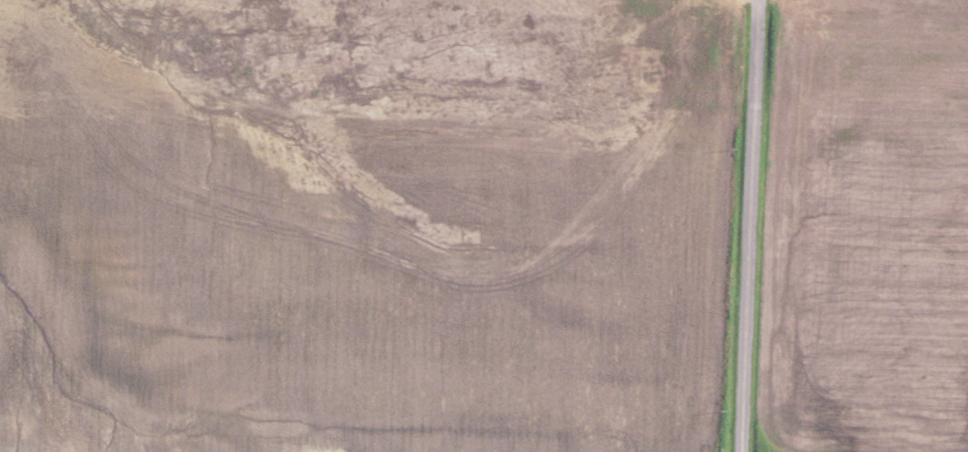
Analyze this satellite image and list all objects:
road: (749, 225)

